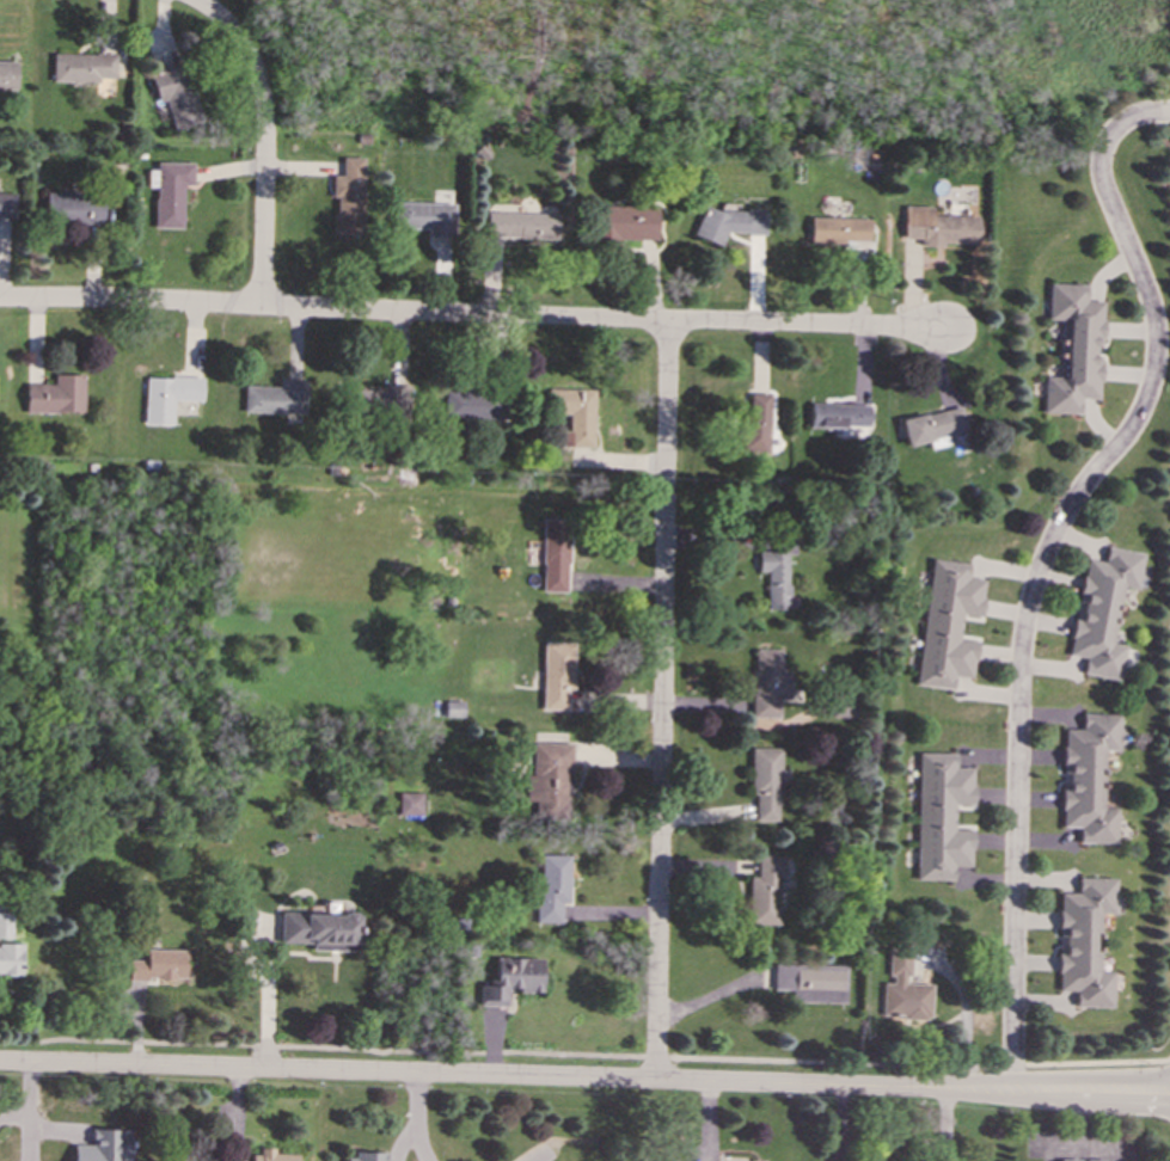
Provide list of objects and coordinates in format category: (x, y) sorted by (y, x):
building: (81, 67)
building: (7, 76)
building: (176, 96)
road: (264, 140)
building: (169, 191)
building: (349, 197)
building: (6, 204)
building: (72, 208)
building: (424, 216)
building: (626, 222)
building: (729, 222)
building: (522, 225)
building: (939, 227)
building: (837, 231)
road: (471, 315)
building: (1073, 349)
building: (56, 394)
building: (167, 397)
building: (275, 398)
building: (376, 403)
building: (472, 405)
building: (574, 414)
building: (839, 414)
building: (754, 422)
building: (933, 426)
building: (555, 554)
road: (1043, 561)
building: (774, 571)
building: (1102, 610)
building: (948, 623)
building: (557, 674)
building: (768, 682)
road: (662, 701)
building: (841, 705)
building: (454, 708)
building: (1089, 778)
building: (549, 782)
building: (765, 784)
building: (410, 803)
building: (941, 816)
building: (551, 886)
building: (5, 924)
building: (318, 929)
building: (1085, 941)
building: (10, 958)
building: (158, 964)
building: (510, 979)
building: (810, 982)
building: (903, 991)
road: (265, 1007)
road: (963, 1012)
road: (584, 1055)
road: (584, 1079)
road: (414, 1118)
building: (103, 1147)
building: (270, 1156)
building: (365, 1157)
road: (532, 1159)
building: (1077, 1159)
building: (233, 1160)

